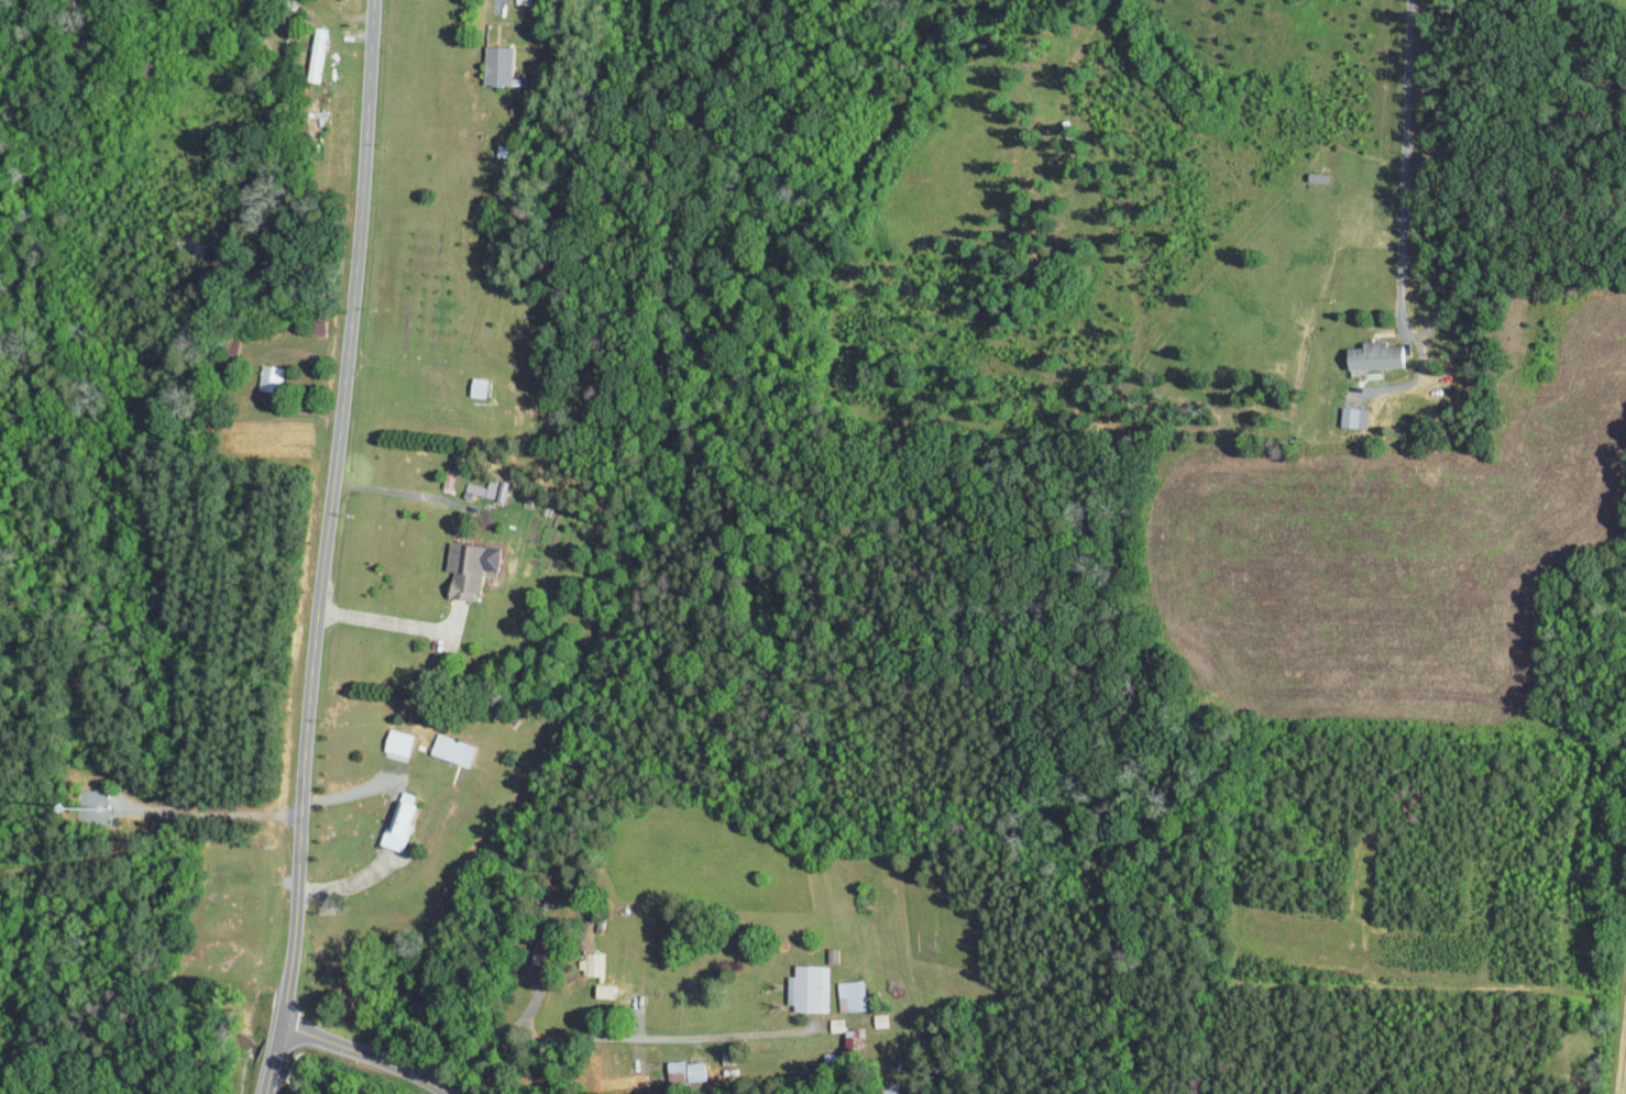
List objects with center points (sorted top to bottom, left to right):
building: (315, 53)
building: (495, 64)
road: (1404, 167)
building: (1314, 177)
building: (1370, 354)
building: (268, 376)
building: (474, 386)
building: (1350, 417)
building: (448, 477)
building: (488, 488)
road: (395, 490)
road: (327, 548)
building: (465, 568)
road: (386, 622)
building: (395, 741)
building: (450, 749)
building: (397, 820)
building: (591, 963)
building: (807, 988)
building: (847, 995)
building: (835, 1024)
road: (609, 1036)
building: (853, 1037)
road: (364, 1054)
building: (684, 1071)

